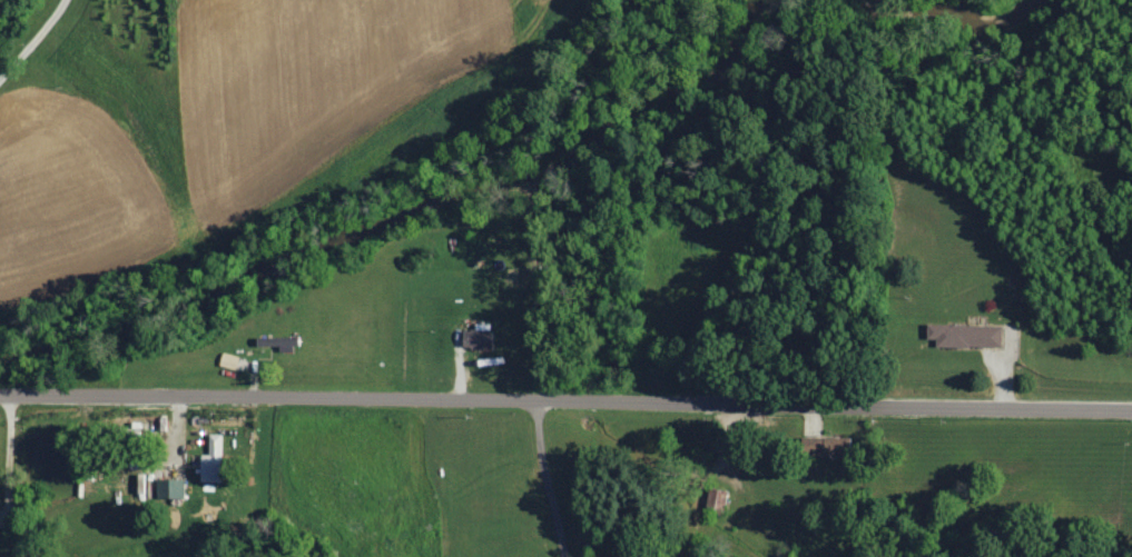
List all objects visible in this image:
building: (968, 337)
building: (481, 338)
road: (565, 396)
building: (828, 447)
building: (215, 460)
building: (171, 488)

